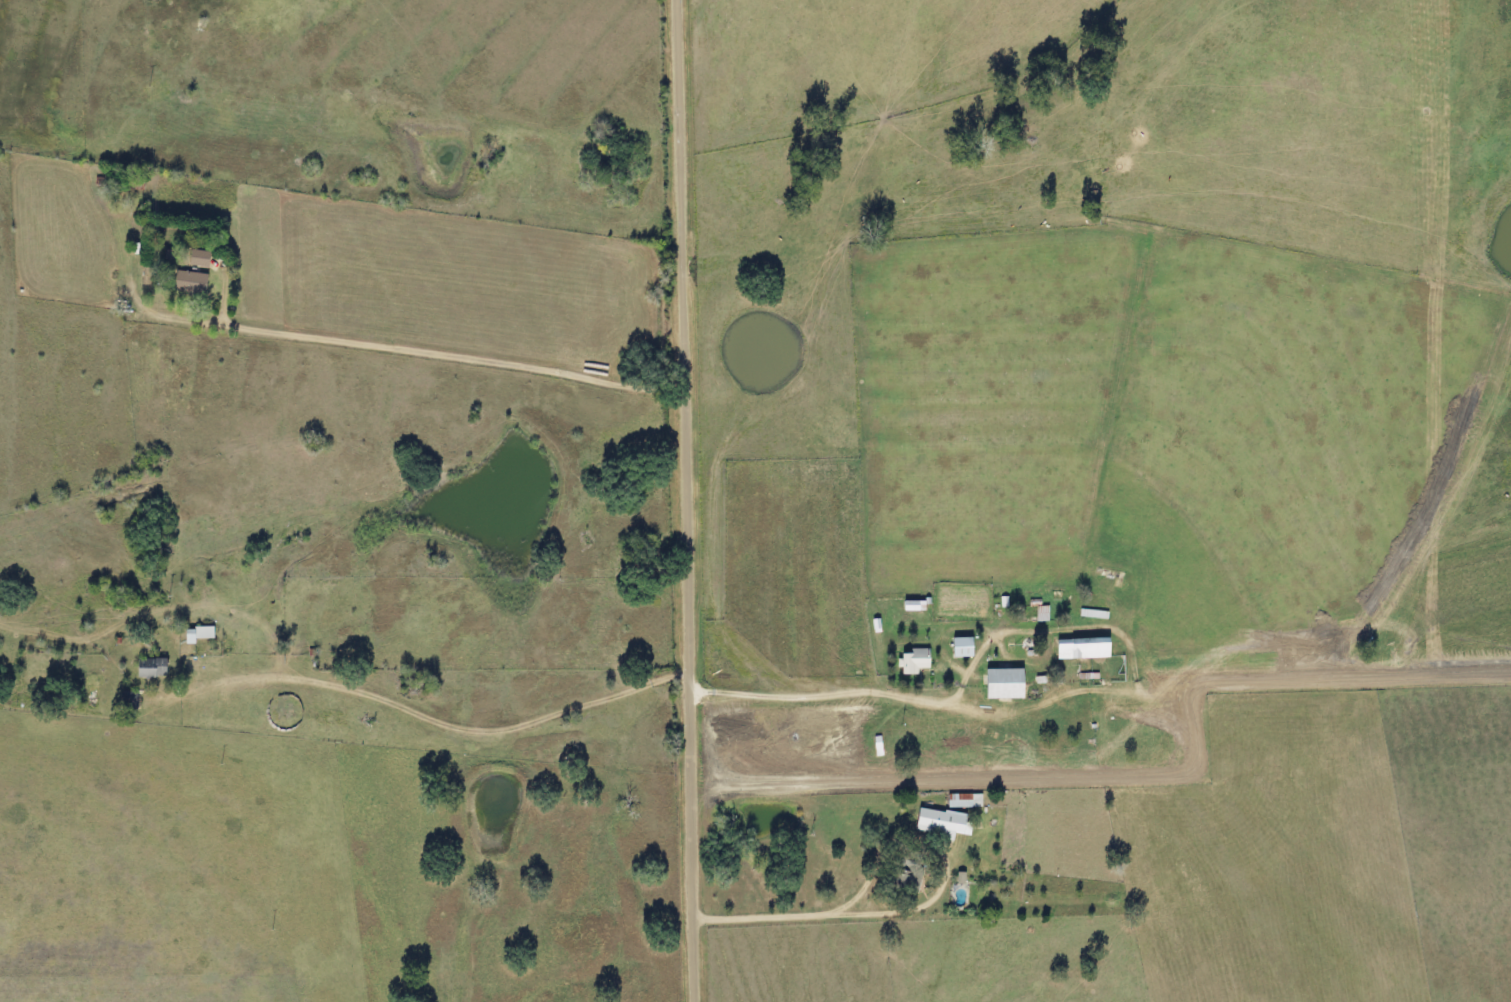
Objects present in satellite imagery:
building: (192, 258)
building: (183, 284)
road: (450, 351)
road: (689, 500)
building: (1105, 577)
building: (1036, 614)
road: (1109, 622)
building: (190, 634)
building: (954, 648)
building: (1075, 649)
building: (907, 662)
building: (145, 668)
building: (995, 684)
building: (123, 701)
road: (433, 716)
building: (958, 801)
building: (928, 824)
building: (895, 880)

